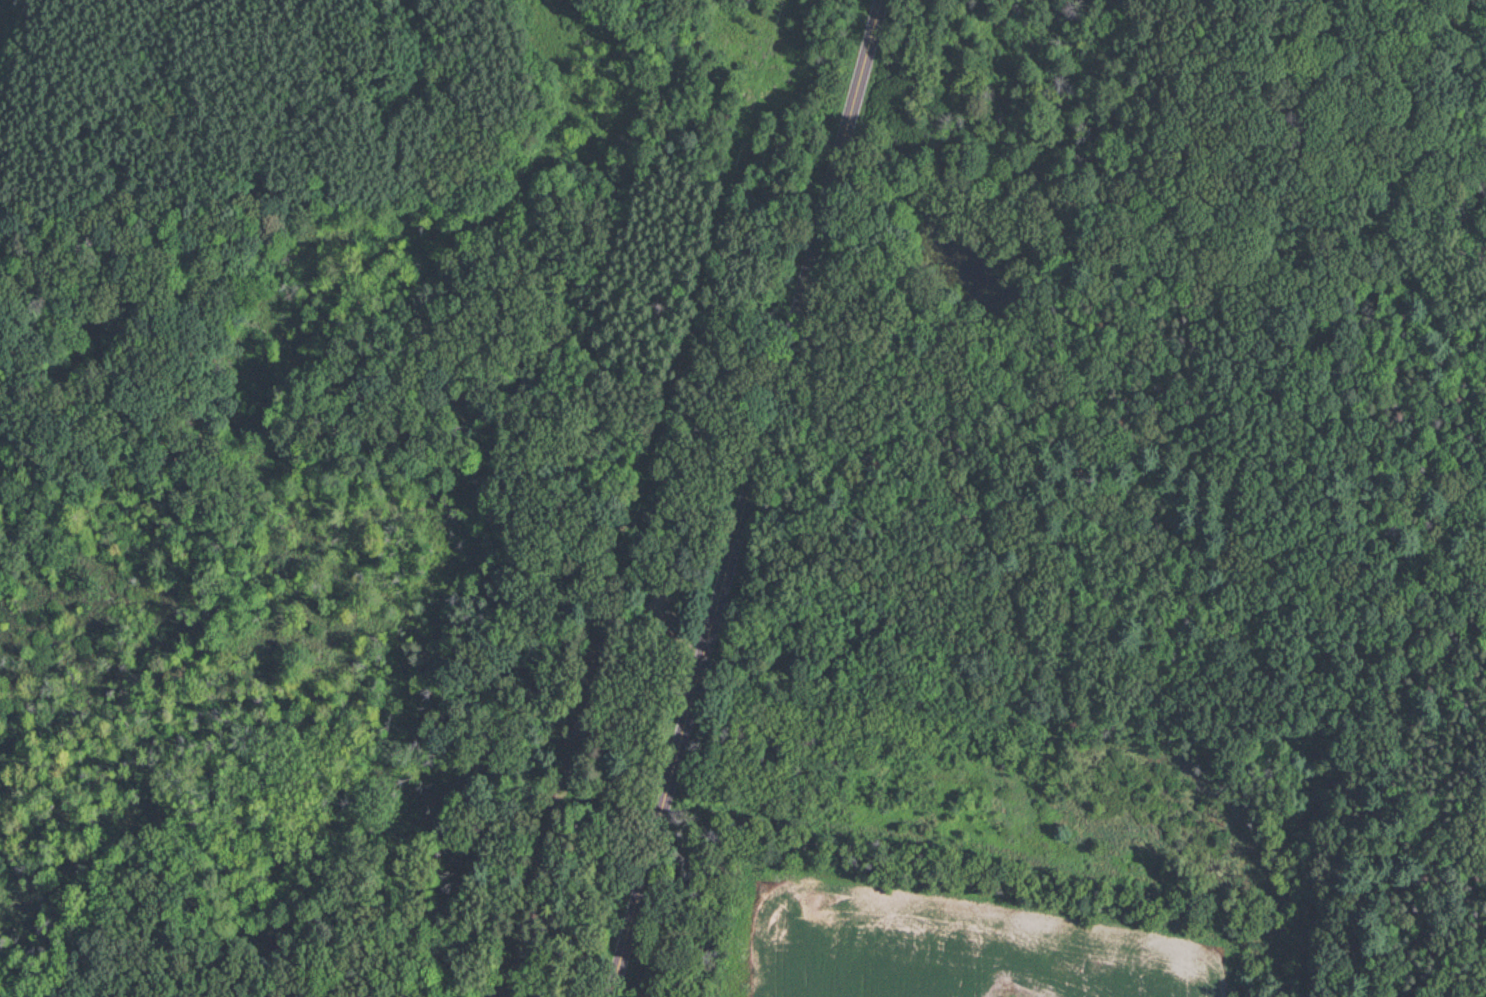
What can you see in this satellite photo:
road: (752, 498)

